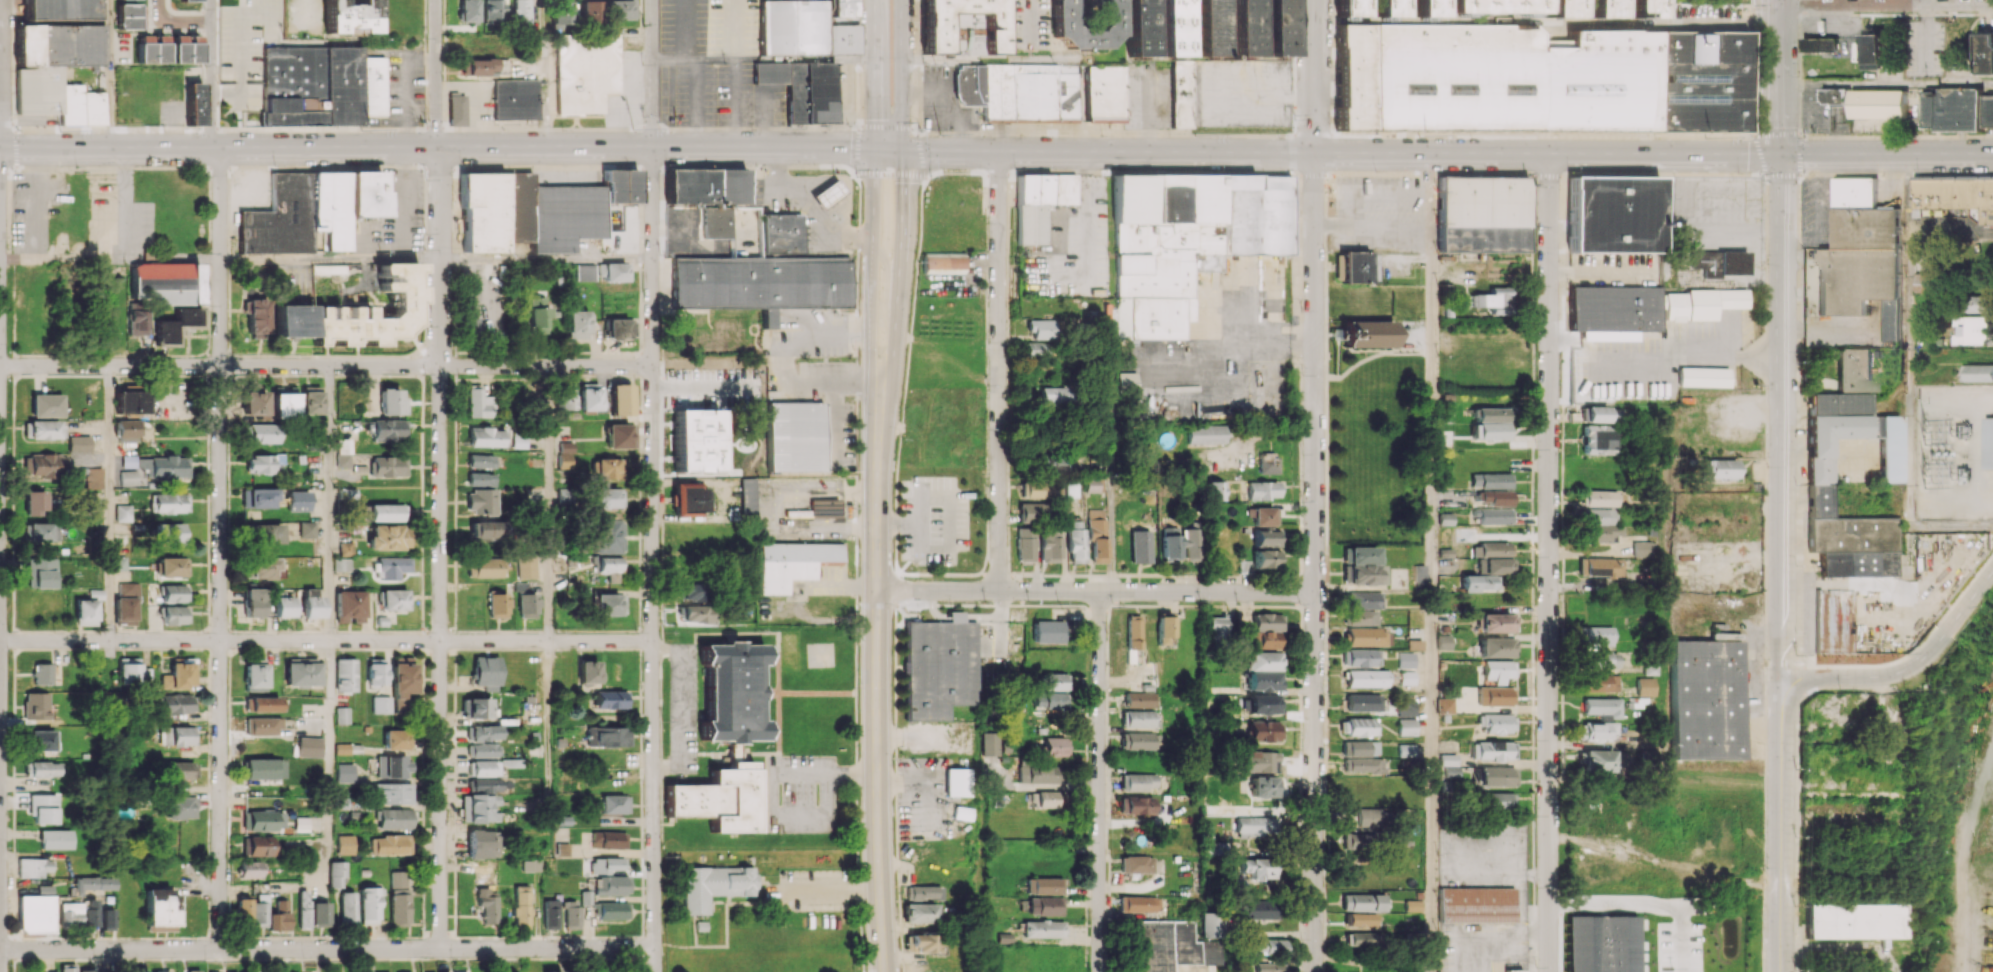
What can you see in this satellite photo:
building: (188, 0)
road: (1925, 2)
road: (1885, 4)
building: (1491, 6)
building: (838, 8)
building: (1347, 8)
building: (1386, 8)
building: (1425, 8)
building: (1558, 8)
building: (1600, 8)
building: (1639, 8)
building: (59, 9)
building: (619, 9)
road: (161, 10)
building: (467, 10)
building: (492, 10)
building: (589, 12)
building: (520, 14)
building: (560, 15)
building: (129, 16)
building: (348, 17)
road: (187, 22)
road: (1660, 24)
building: (1062, 27)
building: (1139, 28)
building: (1174, 28)
building: (1210, 28)
building: (1245, 28)
building: (1278, 28)
building: (800, 29)
building: (964, 32)
building: (934, 33)
building: (1819, 44)
building: (151, 49)
building: (185, 49)
building: (1874, 51)
building: (1985, 53)
building: (58, 71)
building: (585, 72)
road: (108, 74)
road: (212, 74)
road: (436, 74)
road: (652, 74)
road: (1314, 77)
road: (1778, 78)
building: (1539, 80)
building: (310, 85)
building: (373, 85)
building: (801, 89)
building: (1018, 91)
building: (1104, 94)
building: (1835, 96)
building: (515, 98)
building: (1879, 103)
building: (194, 104)
building: (1957, 108)
building: (456, 109)
power tower: (362, 131)
power tower: (635, 131)
power tower: (61, 133)
power tower: (941, 135)
power tower: (1196, 136)
power tower: (1421, 138)
power tower: (1706, 138)
traffic signals: (871, 150)
road: (890, 150)
traffic signals: (901, 150)
road: (1887, 155)
traffic signals: (1781, 156)
building: (619, 186)
building: (704, 186)
road: (1372, 191)
building: (1956, 194)
building: (827, 195)
building: (1039, 202)
road: (125, 204)
road: (809, 206)
building: (309, 210)
building: (526, 213)
building: (1482, 214)
building: (1614, 214)
road: (872, 216)
road: (900, 216)
building: (717, 222)
road: (1373, 224)
road: (1950, 232)
building: (781, 234)
building: (1185, 240)
building: (1861, 257)
road: (62, 259)
road: (173, 259)
road: (331, 259)
road: (547, 259)
building: (943, 263)
building: (1720, 263)
building: (1355, 266)
building: (319, 269)
building: (584, 272)
building: (616, 272)
building: (165, 282)
building: (760, 282)
building: (1924, 282)
building: (1492, 300)
building: (1700, 303)
building: (1981, 303)
building: (1614, 308)
building: (355, 313)
building: (538, 315)
building: (255, 316)
building: (136, 322)
building: (176, 324)
building: (578, 324)
building: (619, 328)
building: (1039, 328)
building: (1975, 331)
building: (1367, 333)
road: (1908, 340)
building: (1033, 348)
road: (1237, 350)
road: (1686, 358)
road: (326, 366)
road: (999, 371)
road: (785, 372)
building: (1977, 373)
building: (1702, 376)
building: (1124, 381)
building: (588, 396)
building: (564, 397)
building: (1052, 397)
building: (620, 399)
building: (309, 400)
building: (130, 402)
building: (391, 402)
building: (253, 403)
building: (282, 403)
building: (478, 403)
building: (46, 405)
building: (1591, 414)
road: (1783, 417)
building: (1490, 422)
building: (127, 429)
building: (385, 429)
building: (46, 430)
building: (262, 433)
building: (1203, 434)
building: (621, 436)
building: (485, 437)
building: (795, 437)
building: (696, 439)
building: (1596, 439)
building: (518, 441)
building: (1988, 442)
building: (78, 443)
road: (1795, 448)
road: (1851, 448)
road: (1819, 449)
building: (342, 452)
power substation: (1954, 452)
building: (564, 455)
building: (480, 460)
building: (259, 463)
building: (1048, 463)
building: (1265, 463)
building: (45, 464)
building: (163, 466)
building: (388, 466)
building: (1819, 466)
building: (608, 468)
building: (1717, 469)
building: (93, 478)
building: (128, 478)
building: (480, 479)
building: (1490, 480)
building: (1092, 484)
building: (1036, 489)
building: (1211, 490)
building: (1260, 490)
building: (347, 494)
road: (1111, 496)
building: (258, 497)
building: (1492, 497)
building: (606, 498)
building: (747, 498)
building: (1599, 498)
building: (690, 499)
building: (298, 501)
building: (480, 501)
building: (35, 502)
building: (170, 502)
road: (108, 503)
road: (328, 503)
road: (549, 503)
building: (824, 507)
building: (1031, 511)
building: (123, 512)
building: (386, 512)
building: (1263, 516)
building: (1494, 516)
parking lot: (933, 520)
building: (1600, 525)
road: (1950, 526)
building: (307, 529)
building: (487, 530)
building: (43, 532)
building: (265, 533)
building: (170, 534)
building: (1096, 535)
building: (607, 536)
building: (386, 537)
building: (1265, 537)
building: (1074, 541)
building: (1168, 543)
building: (1025, 544)
building: (1189, 544)
building: (1050, 546)
building: (1139, 546)
road: (441, 547)
road: (221, 548)
building: (345, 548)
building: (1643, 549)
building: (1265, 559)
road: (653, 560)
road: (1314, 562)
building: (119, 563)
building: (791, 563)
road: (1432, 563)
road: (1549, 563)
building: (342, 564)
building: (172, 566)
building: (1362, 566)
building: (1489, 566)
building: (391, 567)
building: (485, 567)
building: (526, 567)
building: (609, 567)
building: (1602, 567)
building: (263, 568)
building: (41, 573)
building: (1419, 578)
road: (1094, 591)
building: (688, 592)
building: (174, 593)
building: (394, 599)
building: (1363, 600)
building: (125, 602)
building: (253, 602)
building: (311, 604)
building: (527, 604)
building: (608, 604)
building: (497, 605)
building: (349, 606)
building: (283, 607)
building: (85, 612)
building: (696, 614)
building: (174, 615)
building: (1361, 617)
building: (1833, 620)
road: (1954, 621)
building: (1494, 622)
building: (1216, 628)
building: (1164, 630)
building: (1048, 631)
building: (1266, 631)
building: (1132, 632)
building: (1595, 634)
building: (1725, 636)
building: (1365, 637)
road: (326, 641)
building: (1443, 642)
building: (1497, 647)
building: (1362, 657)
building: (1406, 659)
building: (1600, 659)
building: (939, 666)
building: (128, 670)
building: (1497, 670)
building: (1261, 671)
building: (300, 672)
building: (375, 672)
building: (486, 672)
building: (587, 672)
building: (42, 673)
building: (345, 674)
building: (178, 675)
road: (1848, 676)
building: (1407, 677)
building: (401, 679)
building: (1055, 681)
building: (1600, 683)
building: (1645, 686)
building: (731, 694)
building: (1498, 695)
building: (610, 699)
building: (1140, 699)
building: (1706, 700)
building: (1050, 701)
road: (874, 702)
building: (1362, 702)
building: (263, 704)
building: (1263, 704)
building: (35, 705)
building: (176, 705)
building: (380, 705)
road: (681, 705)
building: (1444, 705)
building: (1406, 707)
building: (1602, 707)
building: (477, 708)
road: (548, 714)
building: (341, 715)
building: (1140, 718)
building: (1496, 723)
building: (261, 726)
building: (1360, 726)
building: (1406, 726)
building: (1263, 731)
building: (1597, 731)
building: (483, 732)
building: (178, 735)
building: (608, 736)
building: (395, 739)
building: (41, 740)
building: (1138, 740)
building: (989, 742)
building: (1053, 746)
building: (308, 747)
road: (327, 747)
building: (347, 748)
building: (1360, 748)
building: (482, 750)
building: (1493, 750)
building: (1447, 759)
building: (1597, 760)
building: (1258, 761)
building: (1362, 765)
building: (393, 766)
building: (263, 768)
building: (484, 768)
building: (42, 769)
building: (177, 771)
building: (344, 773)
building: (1039, 775)
building: (1495, 776)
building: (955, 782)
road: (1100, 782)
building: (1137, 782)
building: (484, 785)
building: (1262, 787)
road: (916, 789)
road: (774, 792)
building: (391, 793)
building: (718, 798)
building: (1049, 799)
building: (1496, 801)
building: (614, 804)
building: (1137, 805)
building: (180, 807)
building: (42, 808)
building: (478, 808)
building: (395, 818)
building: (1367, 818)
building: (265, 820)
building: (301, 824)
building: (1253, 826)
road: (1782, 826)
building: (55, 839)
building: (608, 840)
building: (1357, 840)
building: (344, 844)
building: (392, 844)
building: (482, 844)
building: (259, 845)
building: (1136, 864)
building: (531, 865)
building: (606, 865)
building: (33, 867)
building: (1258, 868)
building: (250, 869)
building: (336, 874)
building: (93, 883)
building: (610, 885)
building: (713, 885)
building: (1043, 885)
road: (834, 888)
building: (923, 892)
building: (398, 898)
building: (1362, 902)
road: (1644, 903)
building: (1139, 904)
building: (368, 905)
building: (1411, 905)
building: (1475, 905)
building: (521, 906)
building: (1044, 906)
building: (347, 907)
building: (487, 907)
building: (303, 909)
building: (1261, 909)
building: (159, 910)
building: (243, 911)
building: (258, 911)
building: (612, 911)
building: (35, 912)
building: (918, 913)
building: (70, 914)
building: (90, 914)
building: (320, 914)
building: (550, 914)
building: (570, 914)
building: (278, 917)
building: (108, 919)
building: (1361, 920)
building: (1856, 921)
building: (1213, 924)
building: (1042, 928)
road: (1487, 931)
building: (1362, 940)
building: (921, 943)
building: (1602, 943)
building: (1170, 946)
building: (1273, 946)
road: (328, 948)
building: (1270, 967)
building: (67, 968)
building: (88, 970)
building: (192, 970)
building: (458, 970)
building: (1511, 970)
building: (51, 971)
building: (1800, 971)

